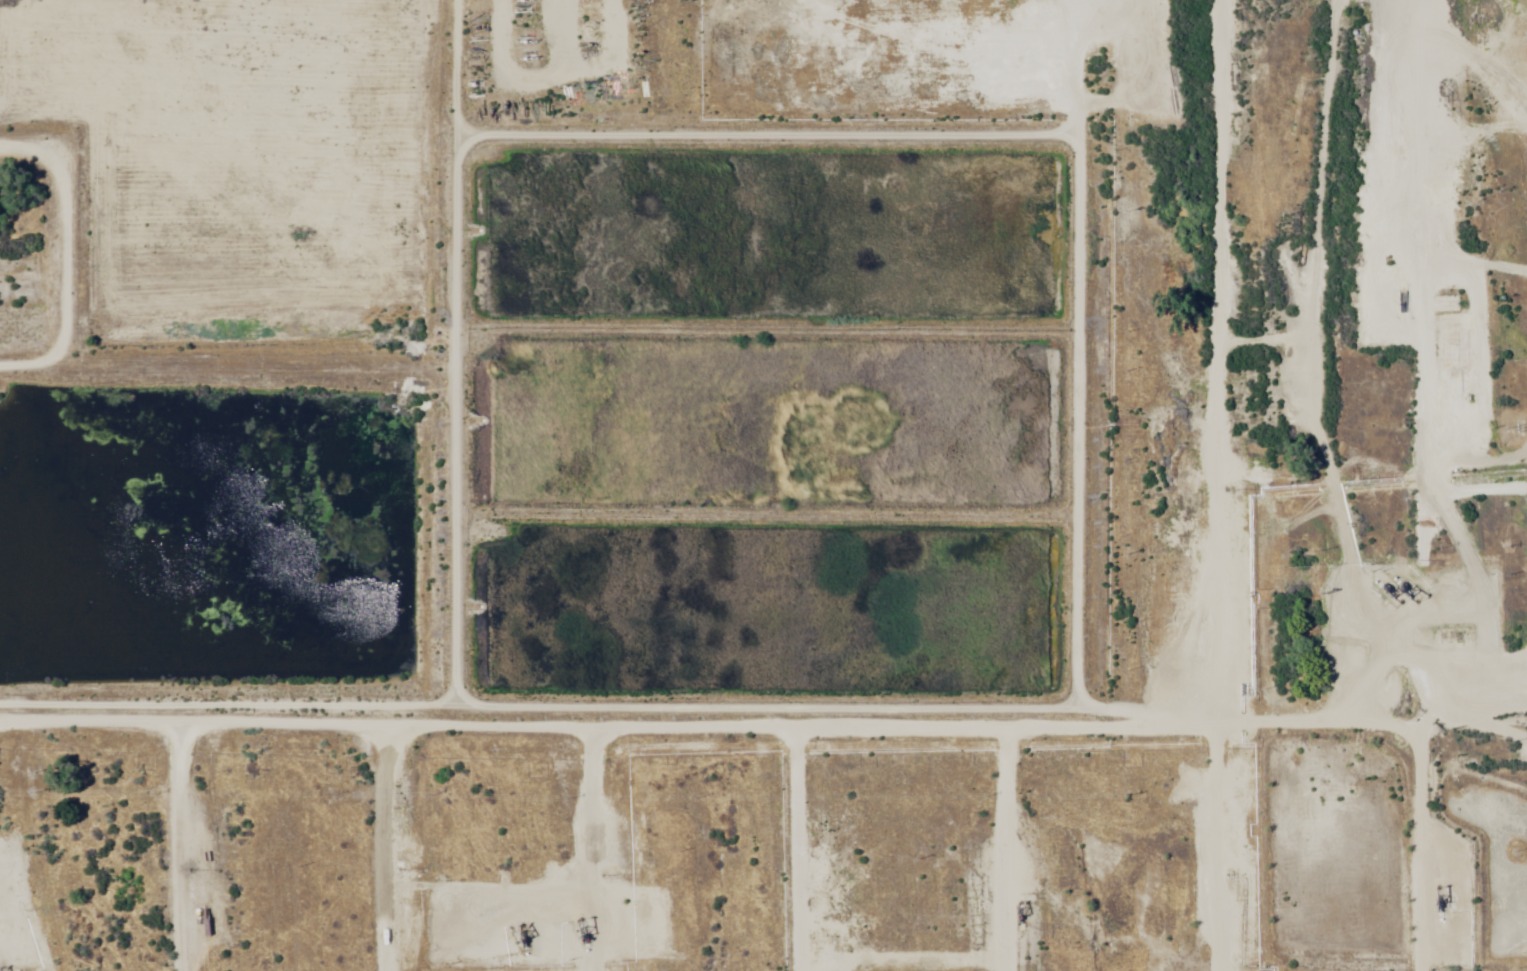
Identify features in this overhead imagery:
road: (48, 43)
road: (171, 290)
road: (521, 294)
road: (355, 485)
road: (788, 485)
road: (965, 485)
road: (1163, 485)
road: (1388, 485)
road: (763, 738)
road: (170, 851)
road: (593, 857)

